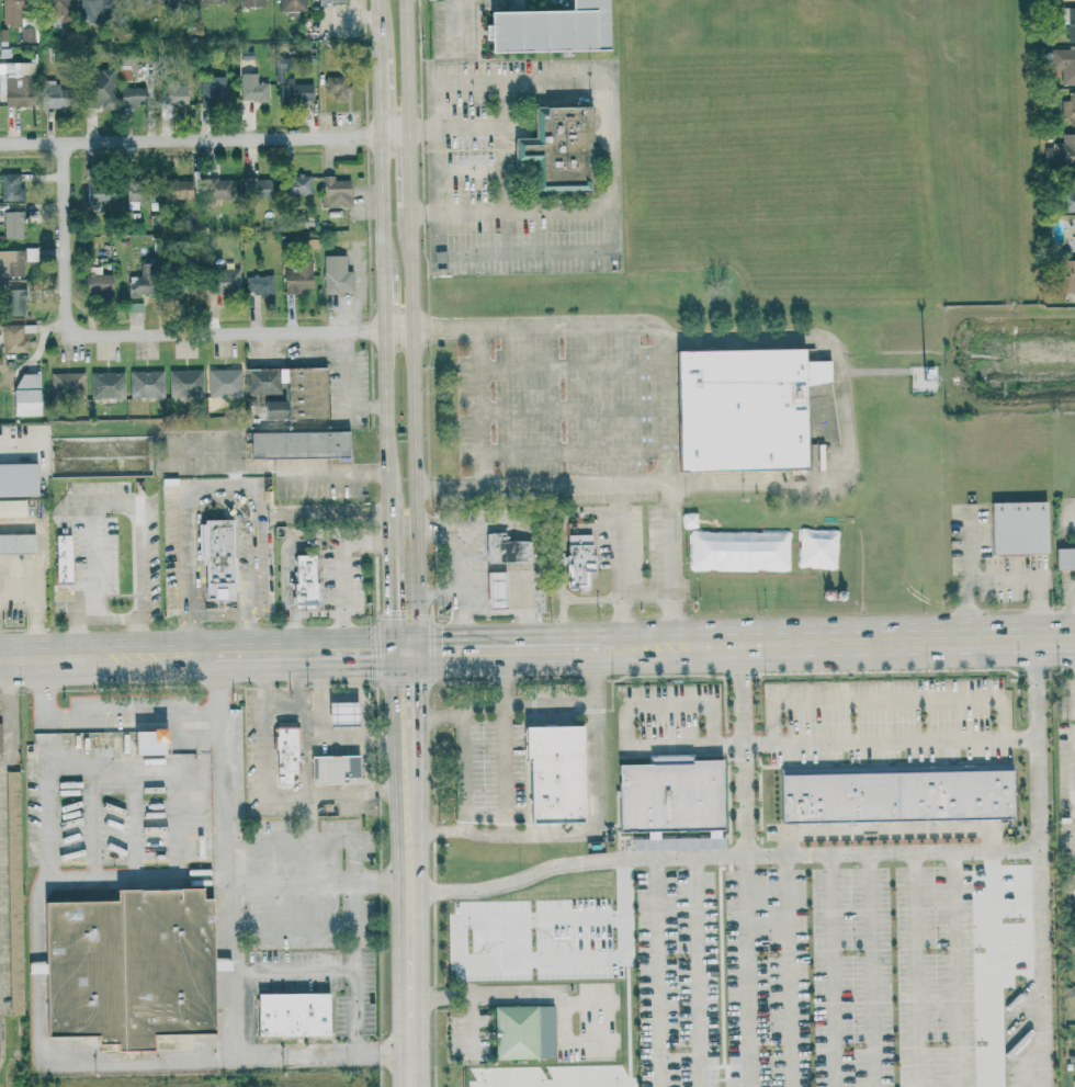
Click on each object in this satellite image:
building: (1060, 0)
building: (174, 1)
building: (211, 1)
building: (330, 1)
building: (250, 2)
building: (291, 5)
building: (90, 10)
building: (11, 11)
building: (1067, 21)
road: (378, 27)
building: (550, 29)
building: (1063, 63)
road: (407, 65)
building: (15, 83)
building: (336, 87)
building: (99, 88)
building: (251, 88)
building: (210, 89)
building: (295, 91)
building: (53, 95)
road: (380, 95)
building: (132, 97)
building: (1068, 109)
road: (613, 118)
road: (457, 128)
road: (395, 132)
road: (190, 138)
road: (506, 145)
building: (557, 149)
building: (1063, 152)
road: (410, 168)
building: (295, 185)
building: (10, 188)
building: (220, 188)
building: (254, 188)
building: (177, 189)
building: (333, 192)
building: (136, 193)
building: (98, 197)
building: (1067, 197)
road: (382, 203)
road: (513, 211)
building: (12, 224)
road: (66, 238)
building: (1074, 244)
building: (14, 261)
building: (335, 275)
building: (1066, 275)
building: (296, 278)
building: (98, 283)
building: (223, 283)
building: (259, 285)
building: (182, 292)
road: (383, 302)
building: (12, 303)
road: (398, 330)
road: (225, 332)
building: (15, 337)
building: (0, 365)
road: (665, 365)
building: (184, 383)
building: (223, 383)
building: (144, 384)
building: (66, 385)
building: (103, 385)
road: (346, 387)
building: (292, 389)
building: (25, 394)
building: (742, 409)
building: (272, 410)
road: (415, 429)
road: (385, 443)
building: (297, 444)
road: (12, 448)
road: (510, 457)
road: (280, 469)
road: (483, 472)
building: (16, 479)
road: (801, 484)
road: (518, 485)
road: (105, 506)
building: (12, 508)
road: (322, 513)
building: (1017, 528)
building: (15, 544)
road: (192, 546)
building: (505, 550)
road: (532, 555)
building: (214, 558)
building: (1064, 558)
building: (60, 559)
building: (577, 559)
road: (461, 565)
road: (342, 577)
building: (302, 580)
road: (998, 580)
road: (139, 581)
road: (71, 582)
road: (440, 590)
building: (494, 590)
road: (20, 595)
road: (646, 595)
road: (592, 600)
road: (389, 604)
road: (1068, 610)
road: (1051, 612)
road: (562, 624)
road: (38, 631)
road: (873, 642)
road: (647, 647)
road: (611, 648)
road: (495, 650)
traffic signals: (391, 653)
road: (302, 654)
road: (107, 658)
road: (507, 698)
road: (886, 701)
road: (580, 703)
road: (669, 705)
road: (265, 706)
road: (352, 707)
road: (133, 712)
building: (340, 714)
road: (9, 715)
road: (394, 725)
road: (421, 725)
road: (830, 741)
building: (146, 743)
building: (284, 756)
road: (88, 766)
building: (332, 770)
road: (507, 770)
building: (551, 773)
road: (465, 779)
road: (89, 788)
road: (135, 794)
building: (668, 794)
road: (176, 795)
building: (893, 796)
road: (91, 822)
road: (592, 828)
road: (292, 840)
road: (785, 842)
building: (657, 846)
road: (721, 856)
road: (229, 857)
road: (355, 859)
road: (45, 862)
road: (1040, 862)
road: (745, 865)
road: (226, 879)
building: (12, 892)
road: (294, 922)
road: (407, 942)
building: (125, 966)
road: (358, 967)
building: (31, 969)
road: (954, 969)
road: (831, 970)
road: (871, 970)
road: (916, 970)
road: (658, 972)
road: (695, 972)
road: (296, 973)
road: (523, 993)
building: (290, 1014)
road: (469, 1022)
building: (522, 1031)
road: (1, 1037)
road: (225, 1060)

